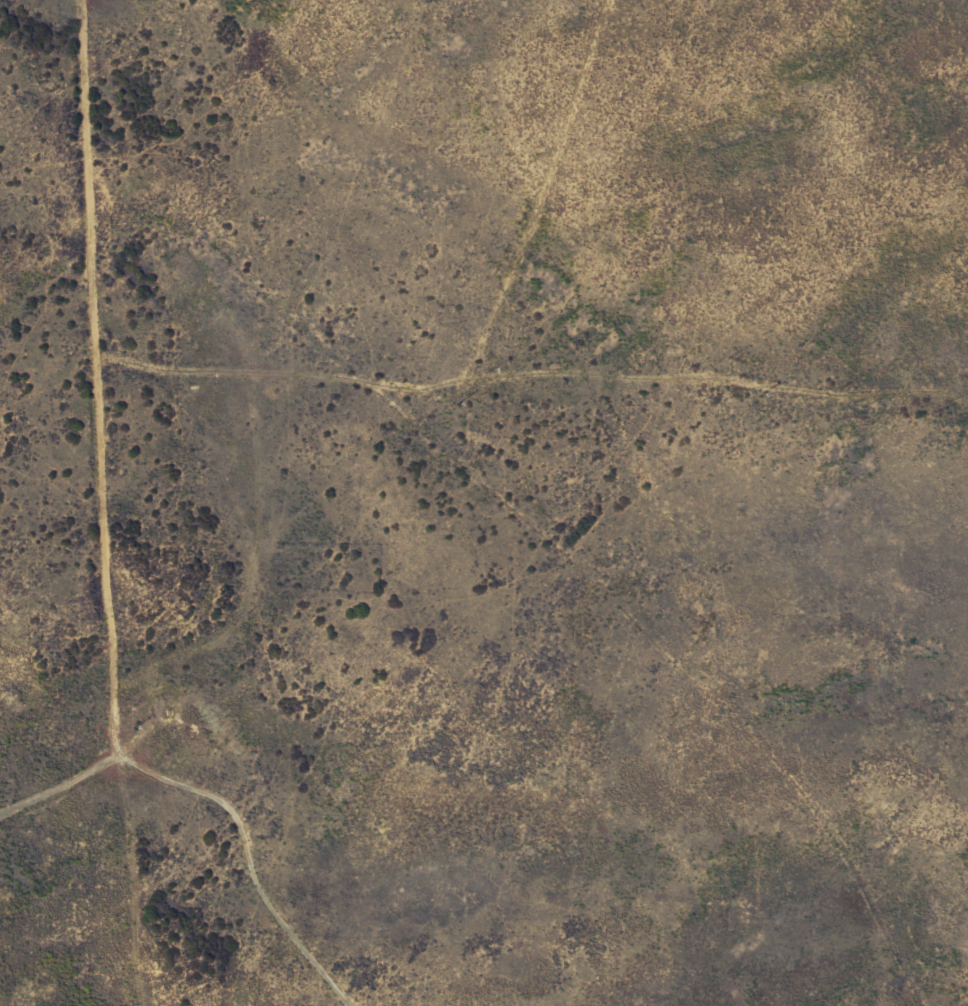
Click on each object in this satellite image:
road: (223, 802)

